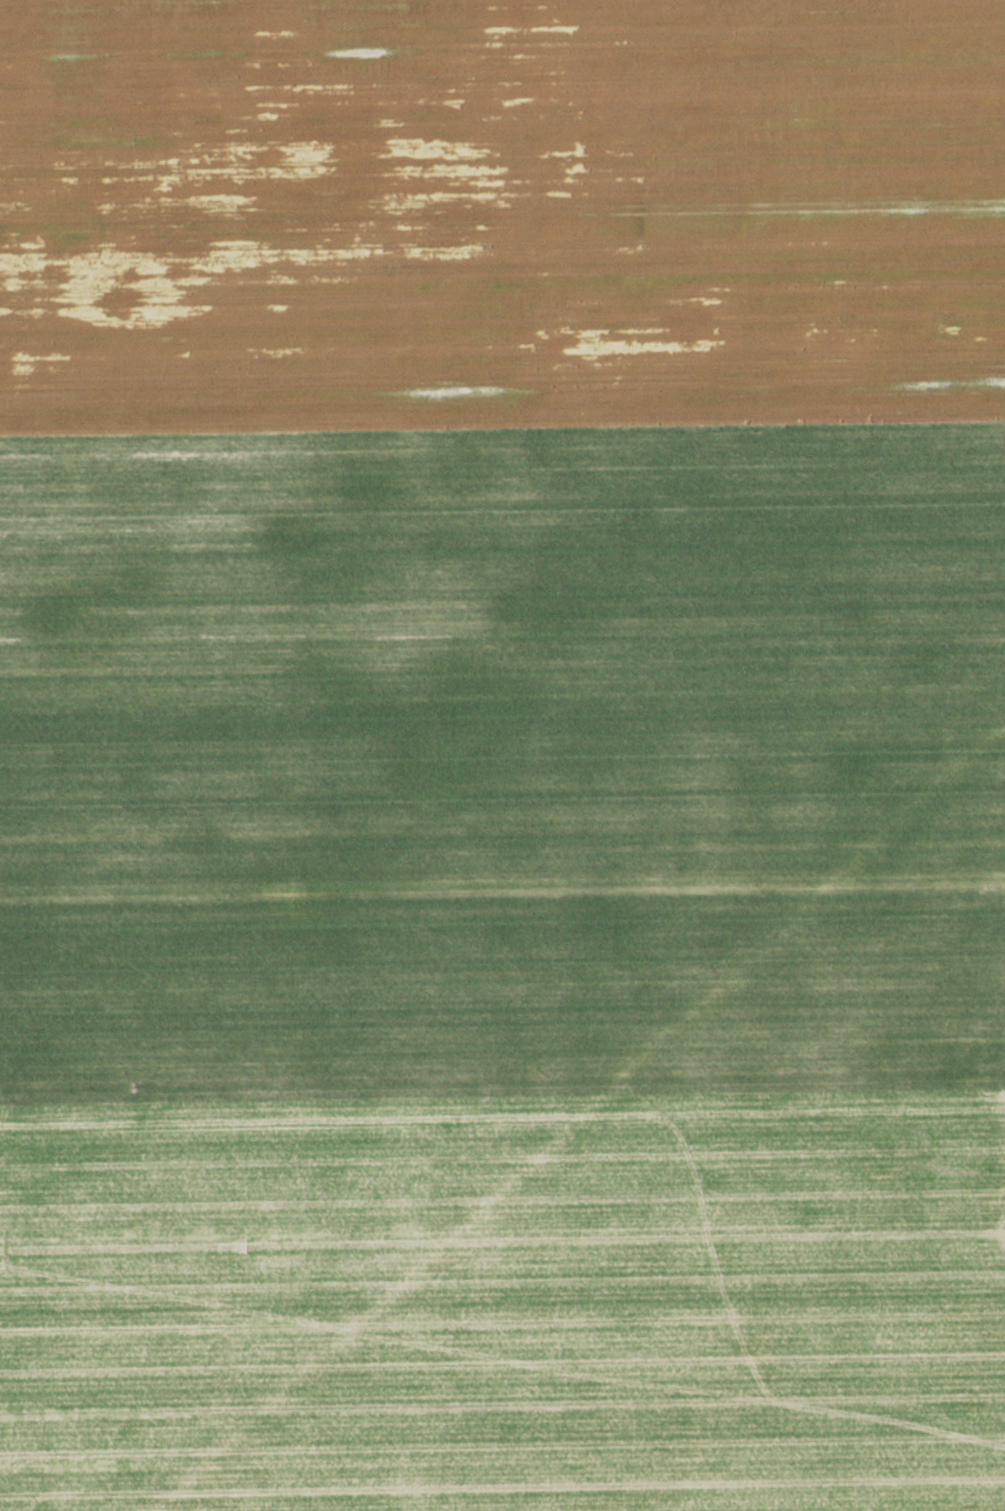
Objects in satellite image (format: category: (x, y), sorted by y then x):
crop: (502, 755)

